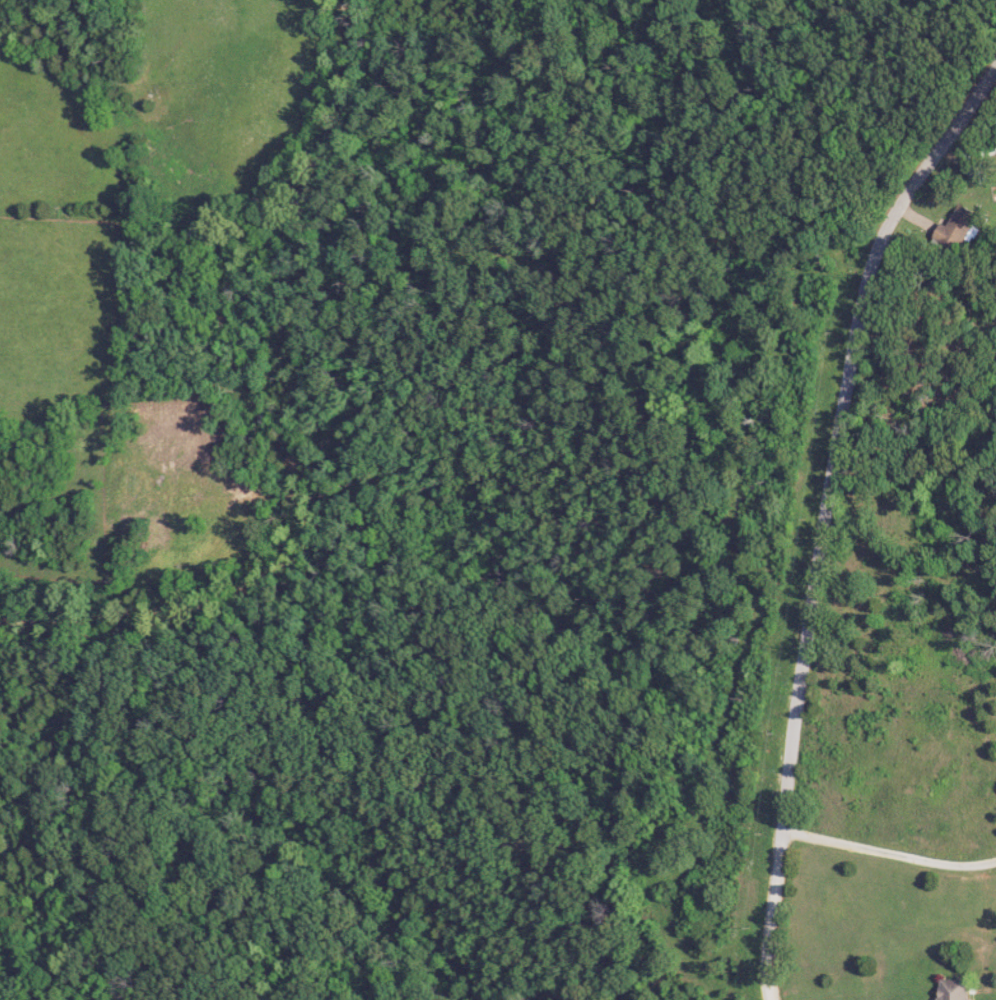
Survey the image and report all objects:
building: (961, 227)
road: (816, 499)
road: (889, 854)
building: (958, 989)

